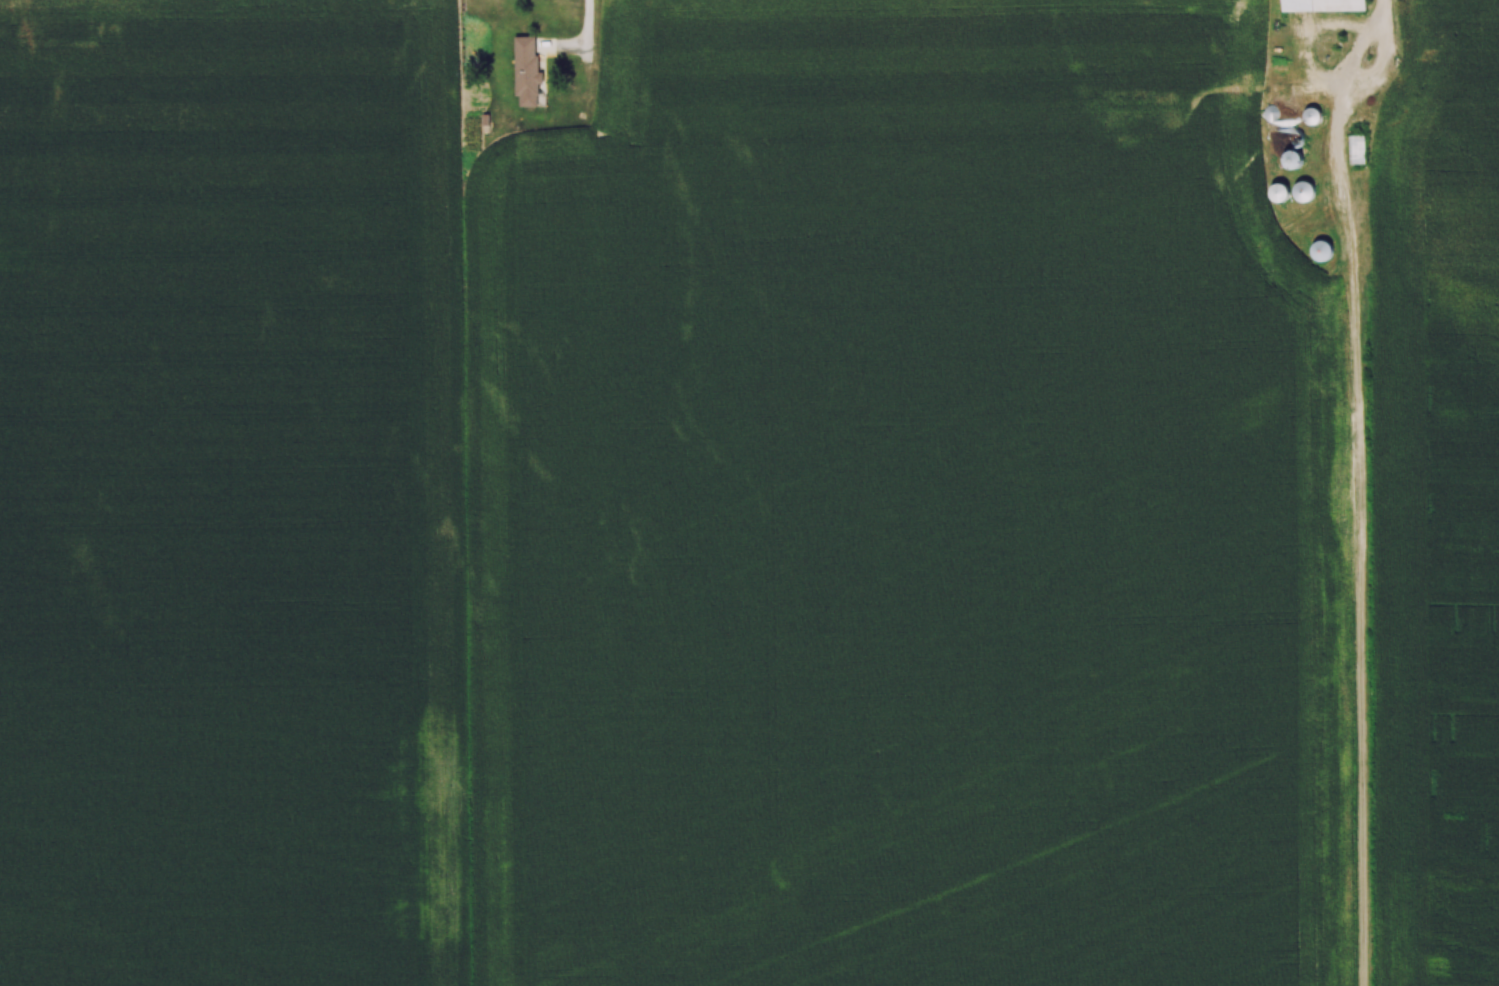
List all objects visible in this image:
road: (1338, 104)

